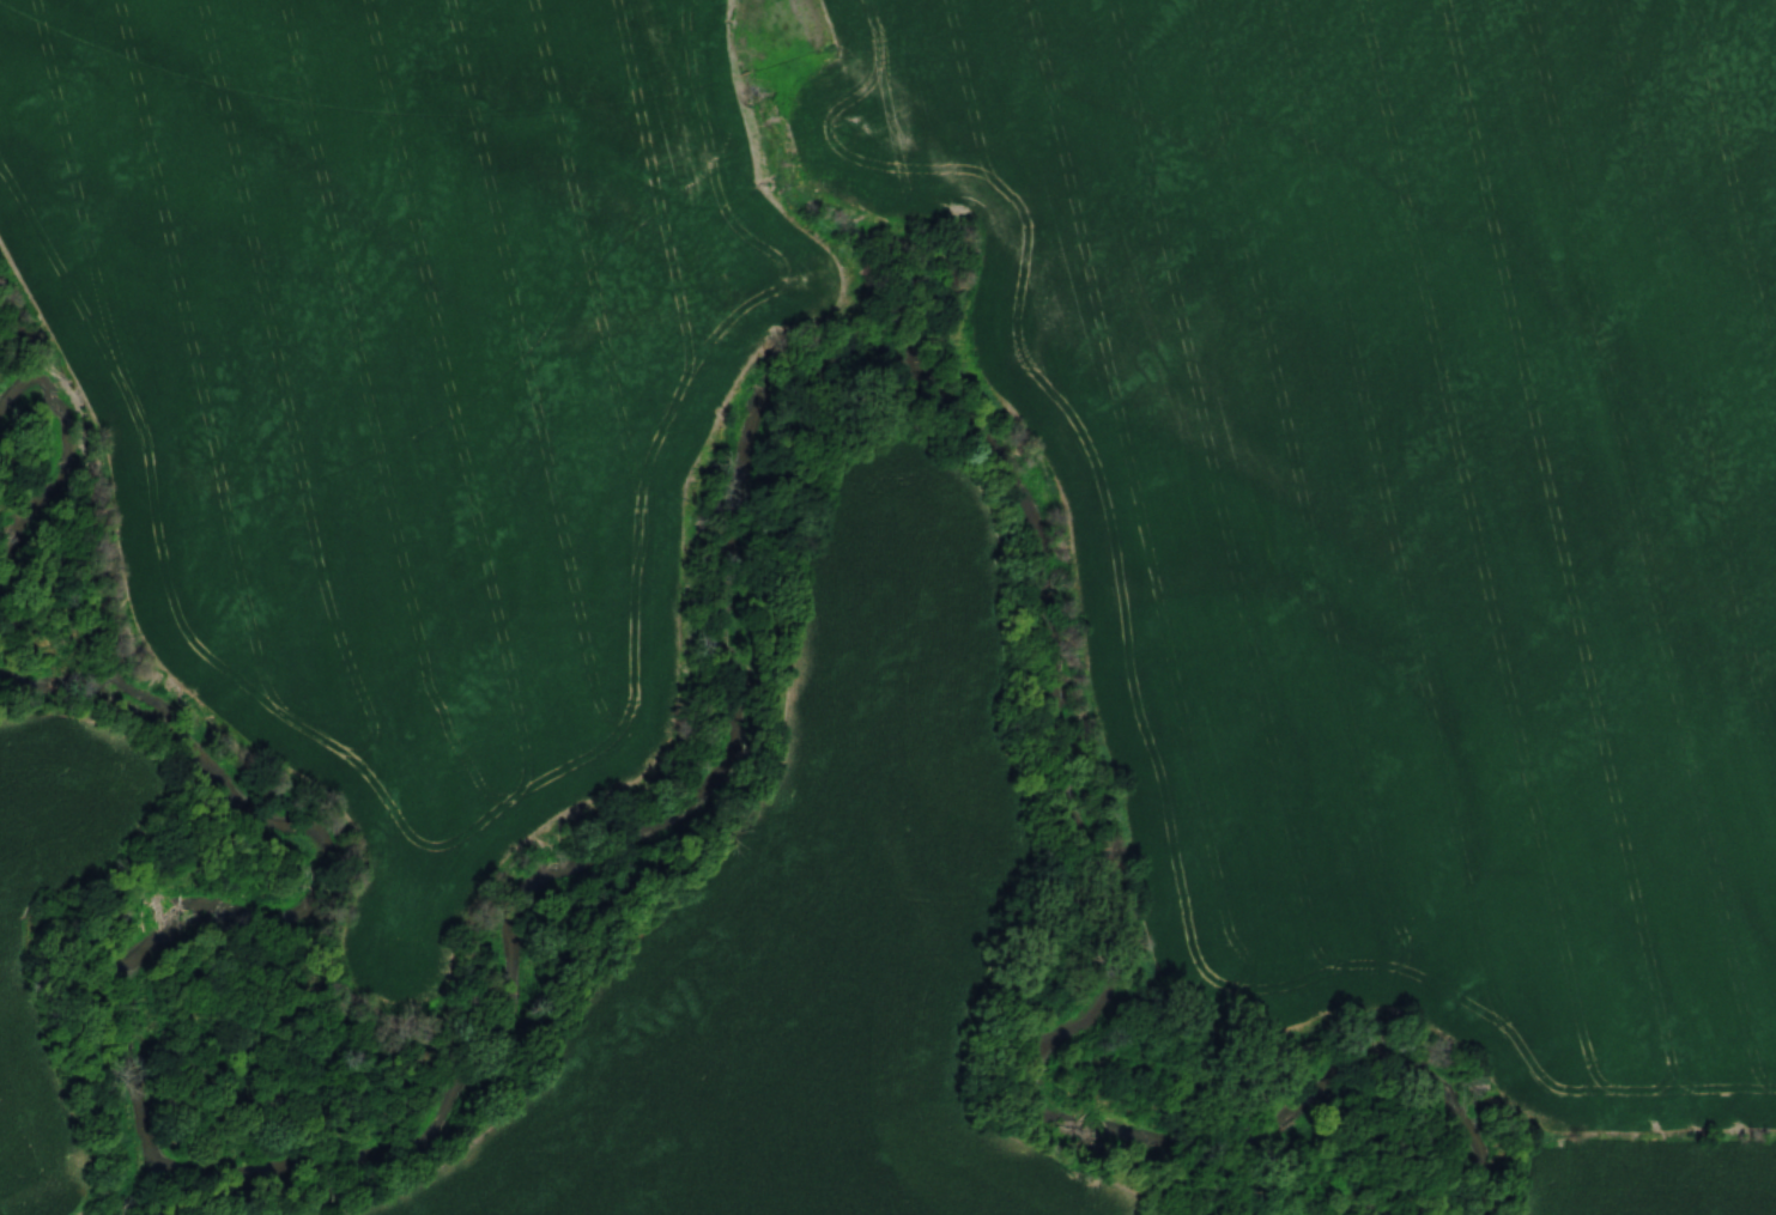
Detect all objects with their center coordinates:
river: (57, 470)
river: (1041, 1073)
river: (445, 1098)

